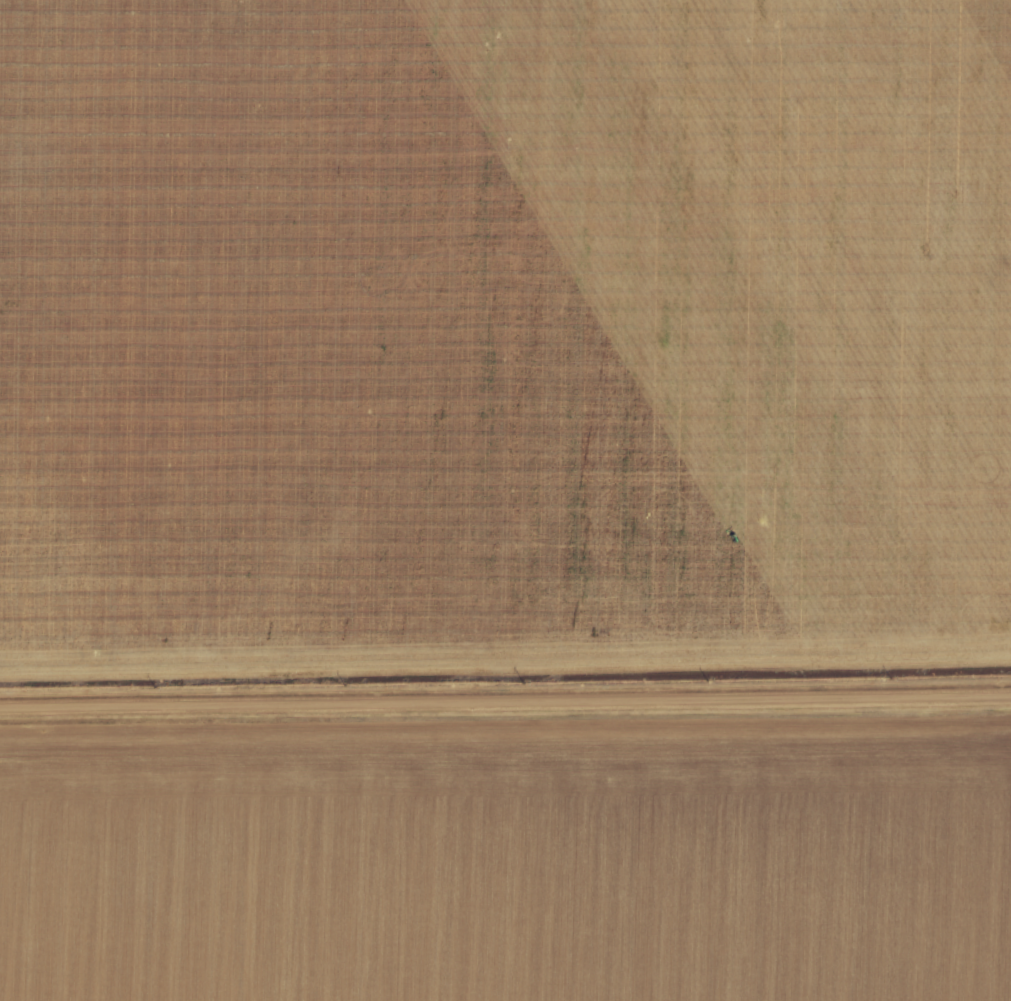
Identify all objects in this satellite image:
road: (505, 702)

